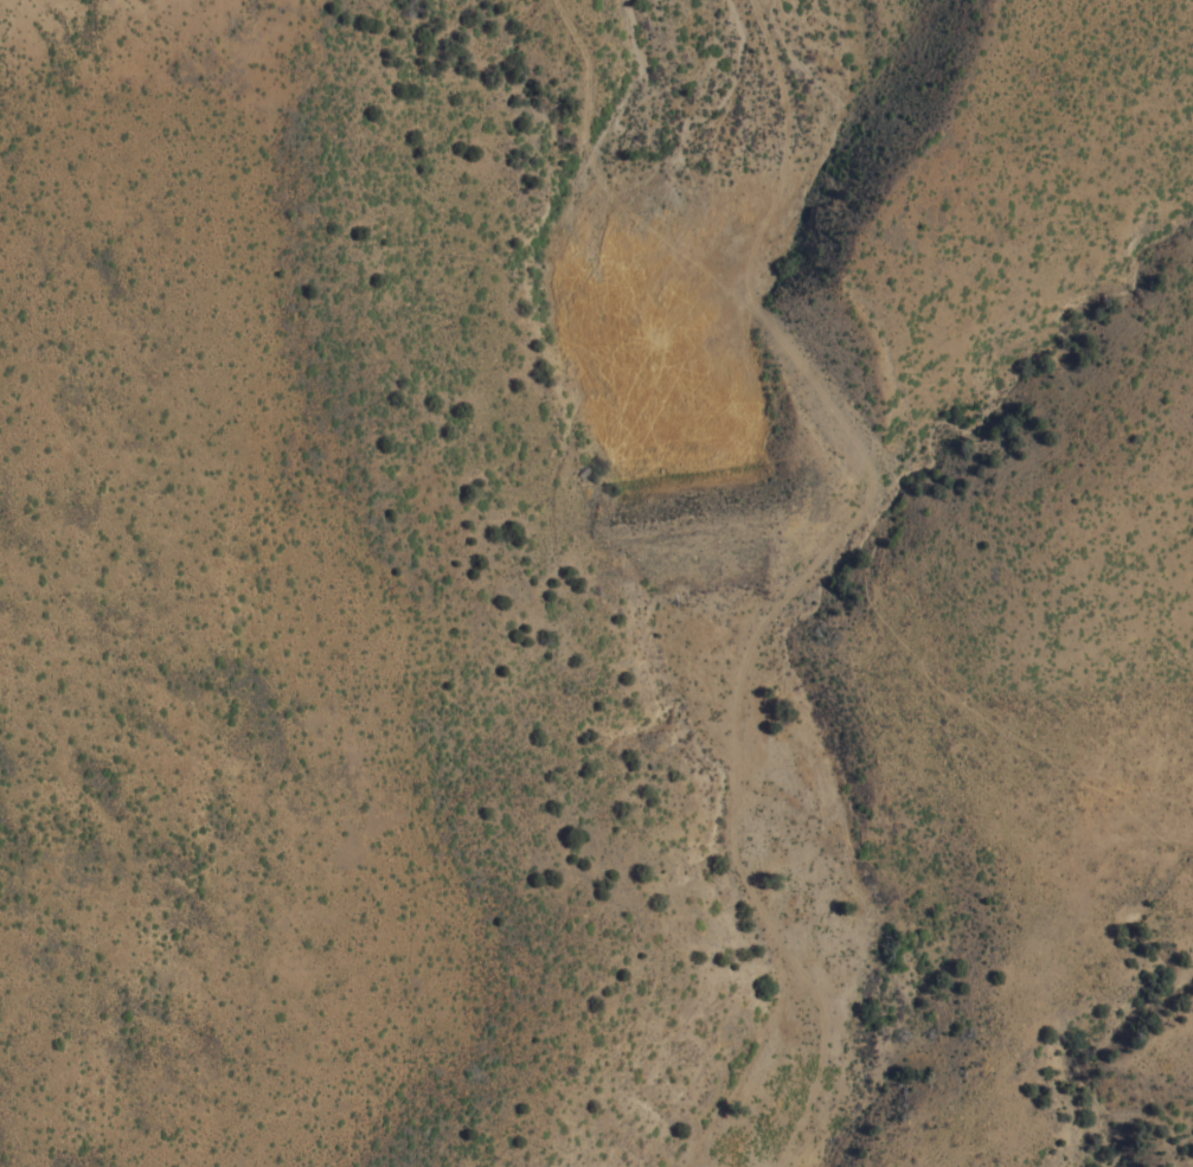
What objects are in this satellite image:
road: (957, 493)

